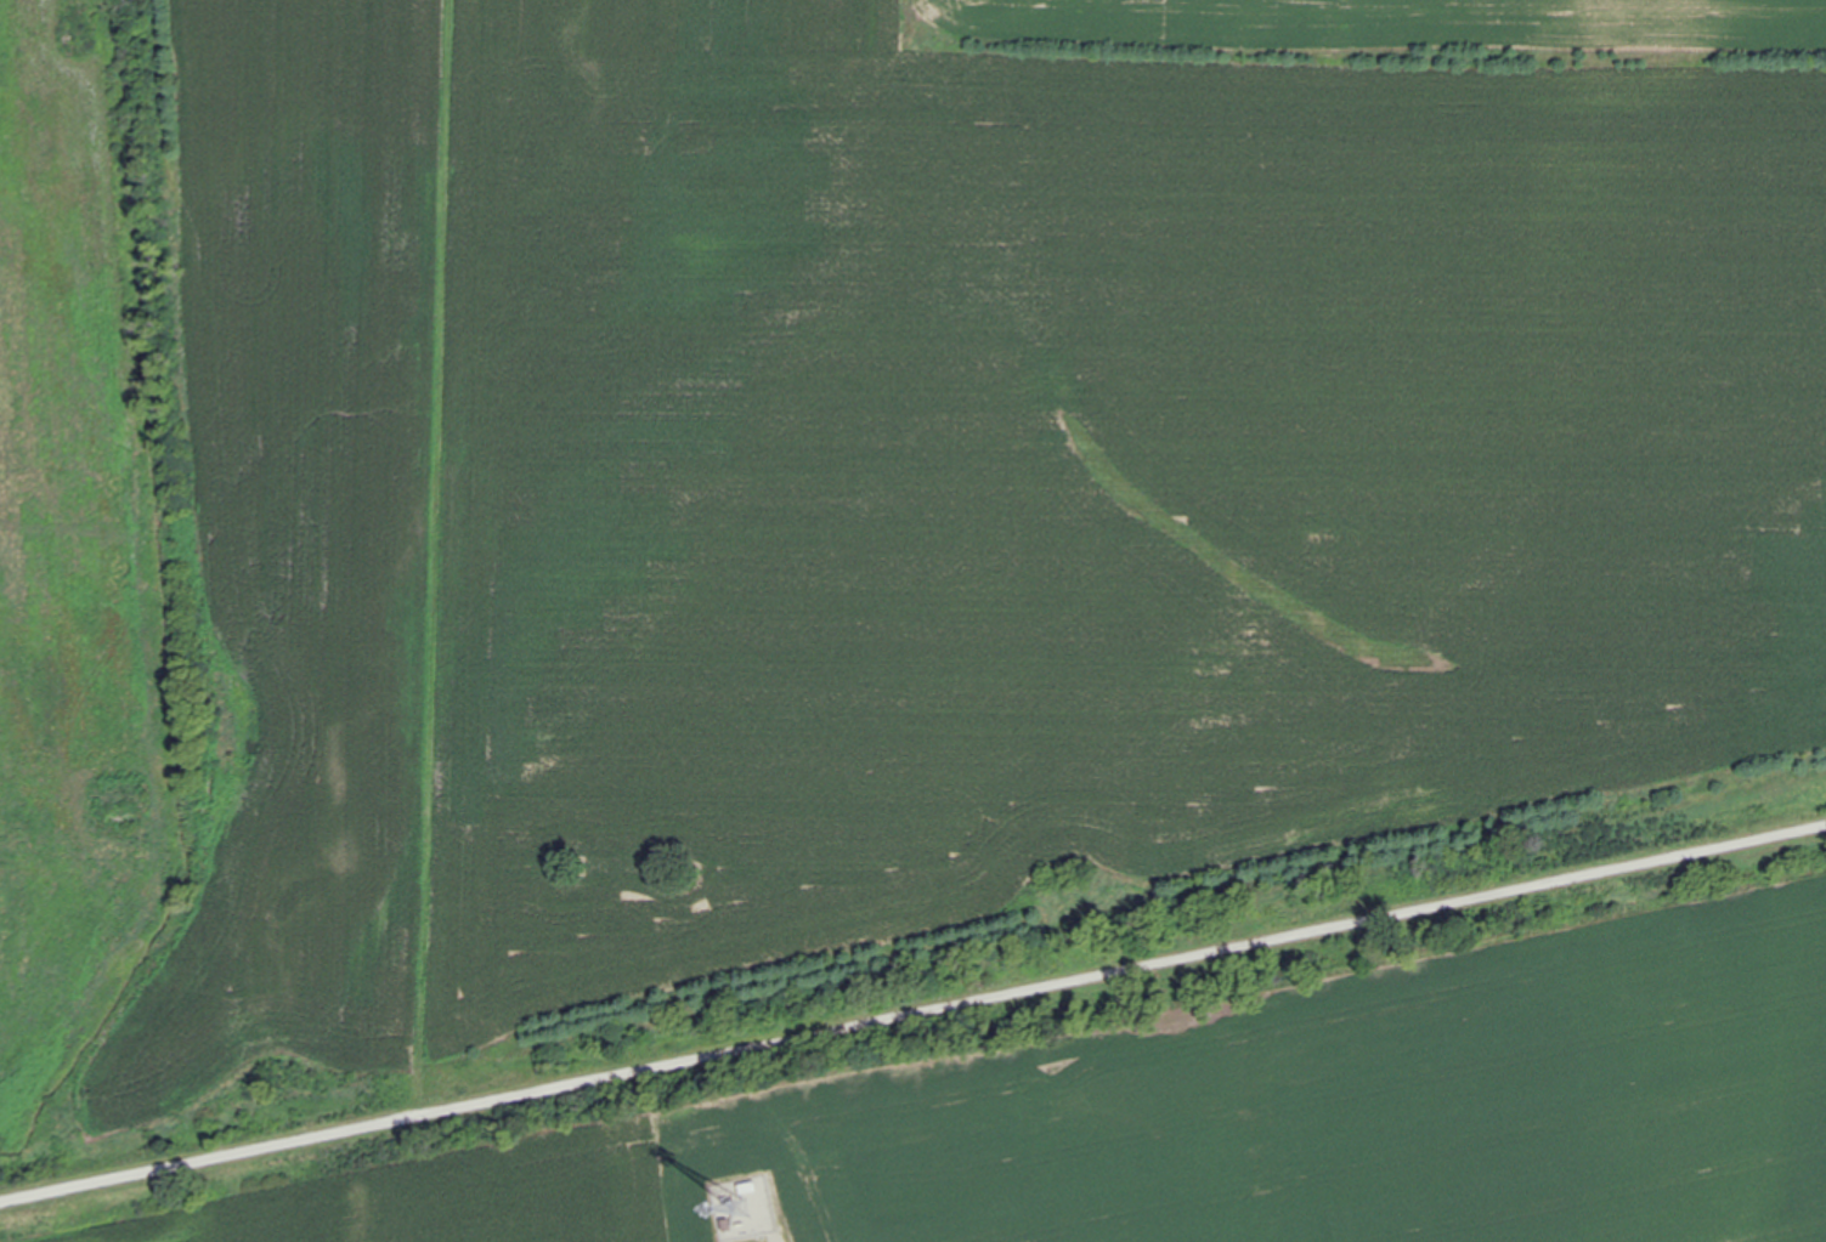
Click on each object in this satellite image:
road: (912, 1013)
building: (750, 1189)

